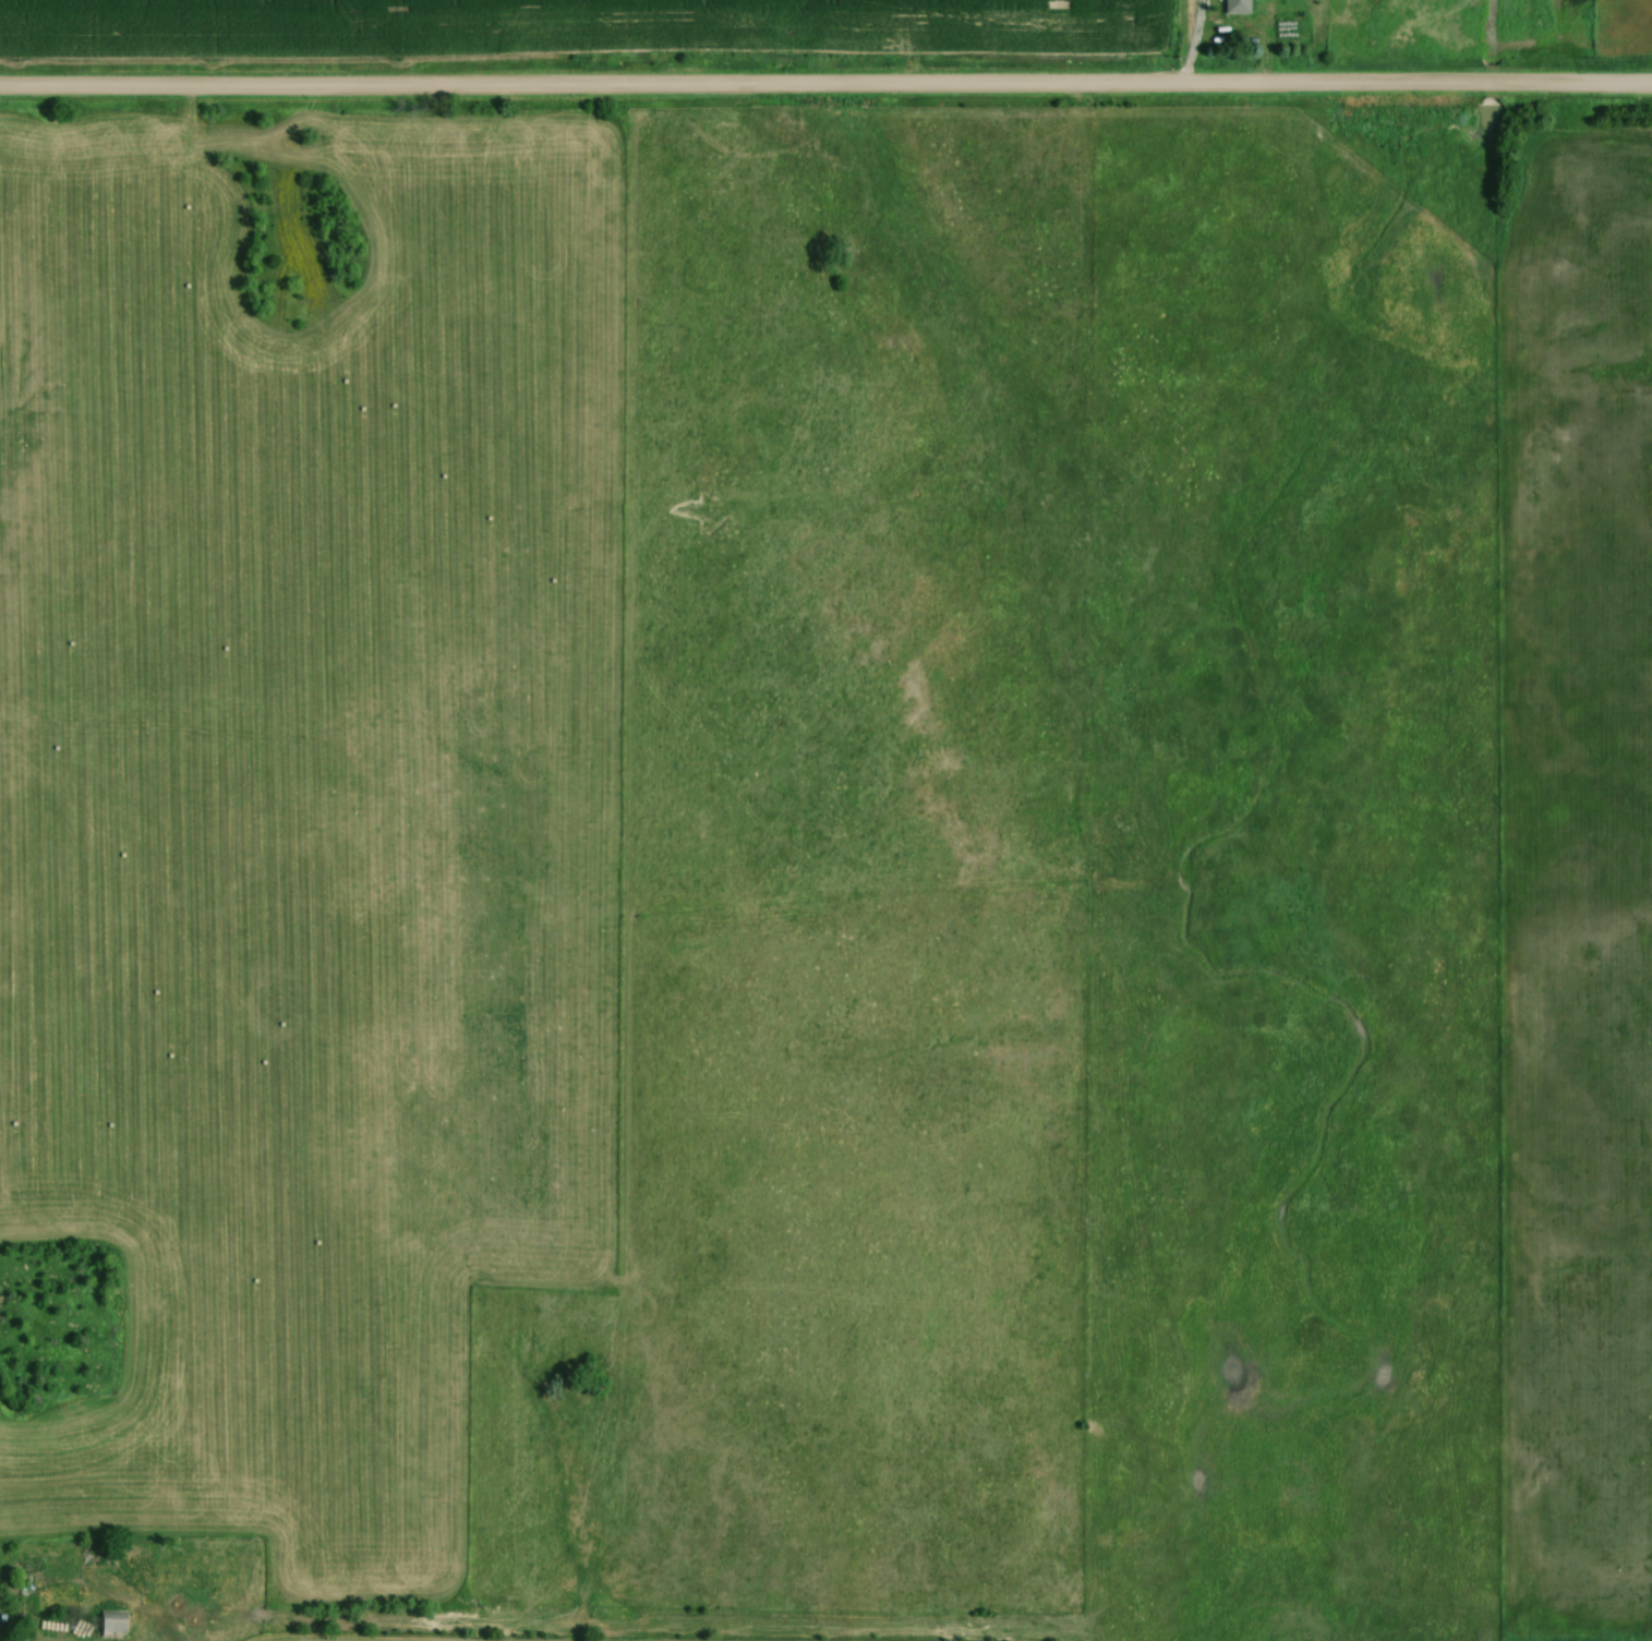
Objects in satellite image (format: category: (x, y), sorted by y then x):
building: (1237, 5)
road: (825, 83)
building: (254, 774)
building: (111, 1624)
road: (24, 1636)

